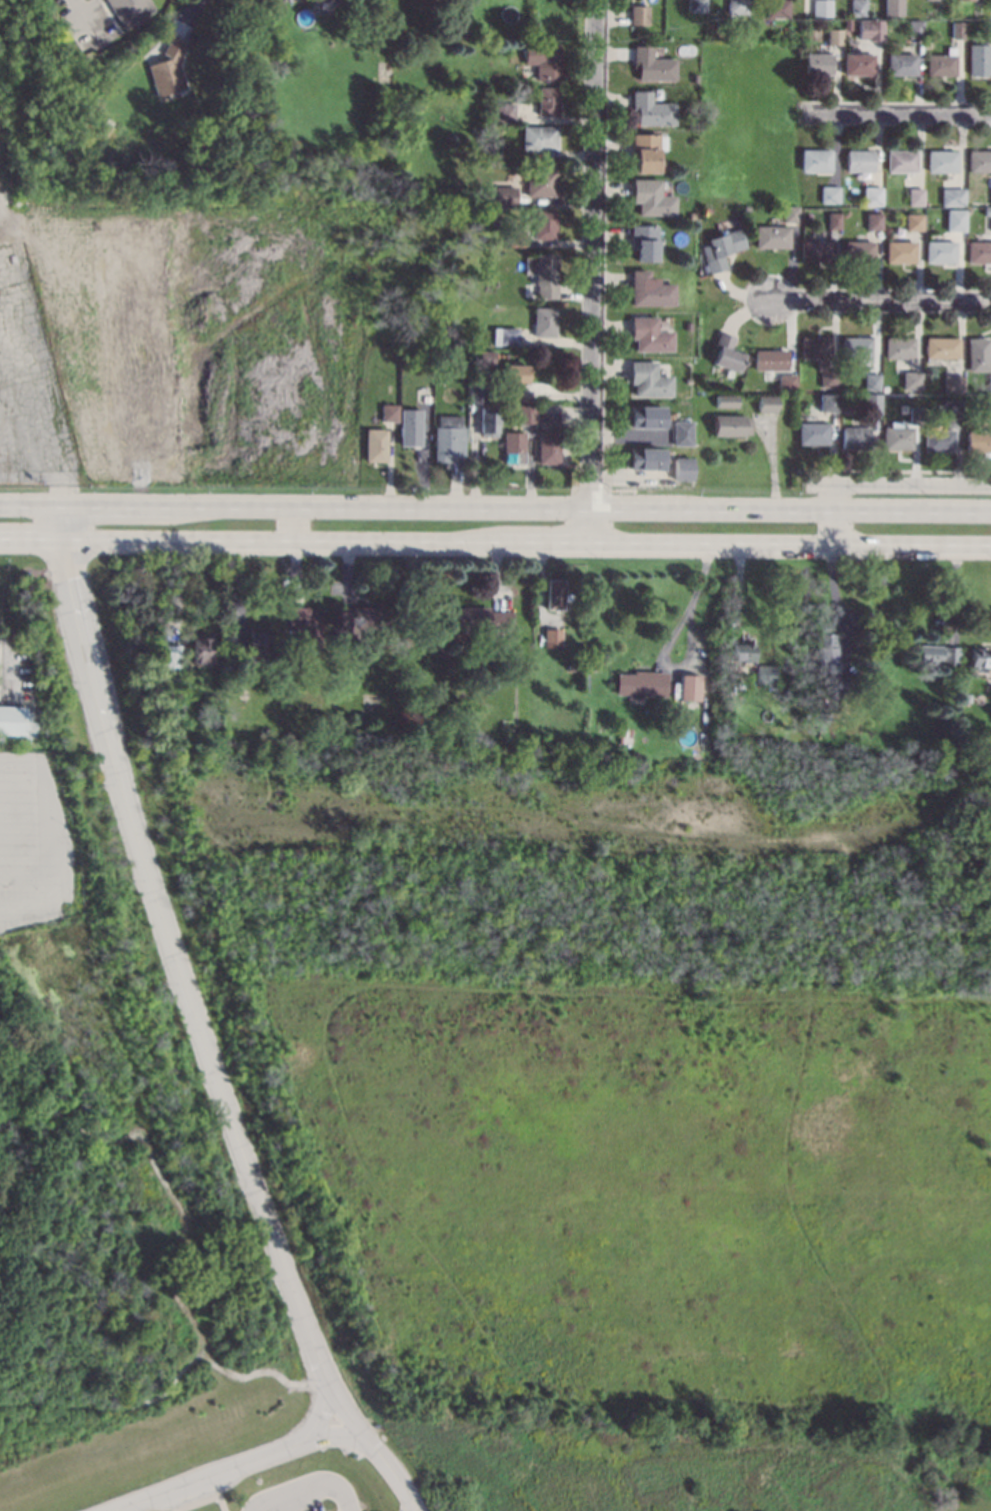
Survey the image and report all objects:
building: (321, 0)
building: (934, 0)
building: (968, 0)
building: (694, 4)
building: (735, 6)
building: (892, 7)
building: (776, 8)
building: (819, 8)
building: (857, 8)
road: (188, 13)
building: (637, 14)
road: (78, 19)
building: (138, 19)
building: (845, 24)
building: (915, 29)
building: (869, 30)
building: (958, 31)
building: (990, 35)
building: (832, 36)
building: (978, 58)
building: (544, 60)
building: (941, 62)
building: (817, 63)
building: (857, 63)
building: (652, 64)
building: (900, 64)
building: (167, 71)
building: (384, 75)
building: (694, 77)
building: (547, 101)
building: (652, 109)
building: (505, 112)
road: (895, 112)
building: (237, 117)
building: (227, 118)
park: (747, 122)
building: (692, 124)
building: (539, 137)
building: (646, 152)
building: (486, 155)
building: (814, 160)
building: (941, 160)
building: (979, 160)
building: (859, 161)
building: (901, 161)
building: (478, 162)
building: (494, 162)
building: (541, 182)
building: (829, 194)
building: (872, 195)
building: (915, 196)
building: (952, 196)
building: (990, 196)
building: (507, 197)
building: (652, 198)
building: (746, 208)
building: (986, 210)
building: (789, 214)
building: (692, 215)
building: (833, 220)
building: (873, 220)
building: (913, 222)
building: (955, 222)
building: (990, 222)
building: (544, 224)
building: (516, 237)
building: (772, 237)
building: (644, 241)
building: (495, 242)
building: (721, 248)
building: (814, 250)
building: (856, 251)
building: (899, 251)
building: (939, 251)
building: (978, 252)
road: (592, 271)
building: (545, 275)
building: (649, 289)
road: (878, 299)
building: (496, 319)
building: (543, 321)
building: (688, 326)
building: (650, 335)
building: (494, 336)
building: (508, 336)
building: (898, 346)
building: (855, 347)
building: (816, 348)
building: (942, 348)
building: (726, 352)
building: (977, 353)
building: (485, 357)
building: (771, 360)
building: (514, 373)
building: (828, 377)
building: (648, 379)
building: (911, 380)
building: (871, 381)
building: (786, 383)
building: (952, 383)
building: (989, 383)
building: (512, 391)
building: (477, 393)
building: (424, 397)
building: (925, 399)
building: (727, 401)
building: (828, 402)
building: (766, 403)
building: (870, 403)
building: (990, 406)
building: (948, 408)
building: (388, 412)
building: (525, 413)
building: (913, 414)
building: (548, 415)
building: (645, 416)
building: (488, 422)
building: (730, 425)
building: (409, 427)
building: (681, 433)
building: (812, 433)
building: (896, 436)
building: (854, 437)
building: (448, 438)
building: (937, 440)
building: (977, 442)
building: (374, 445)
building: (513, 447)
building: (548, 447)
building: (645, 458)
road: (773, 459)
building: (682, 468)
road: (899, 484)
road: (27, 503)
road: (522, 507)
road: (835, 515)
road: (55, 521)
road: (291, 523)
road: (27, 538)
road: (523, 543)
building: (555, 593)
road: (836, 603)
building: (577, 607)
road: (692, 607)
building: (481, 618)
building: (361, 619)
building: (304, 626)
building: (552, 636)
building: (257, 641)
building: (200, 648)
building: (742, 651)
building: (827, 651)
building: (937, 654)
building: (980, 656)
building: (165, 661)
building: (233, 666)
building: (570, 666)
building: (764, 674)
building: (642, 684)
building: (739, 685)
building: (688, 686)
building: (842, 691)
building: (165, 694)
building: (828, 716)
building: (11, 719)
building: (263, 730)
building: (623, 734)
building: (287, 736)
building: (369, 738)
building: (726, 738)
building: (452, 739)
road: (62, 839)
road: (203, 1039)
road: (336, 1435)
road: (244, 1461)
road: (320, 1484)

